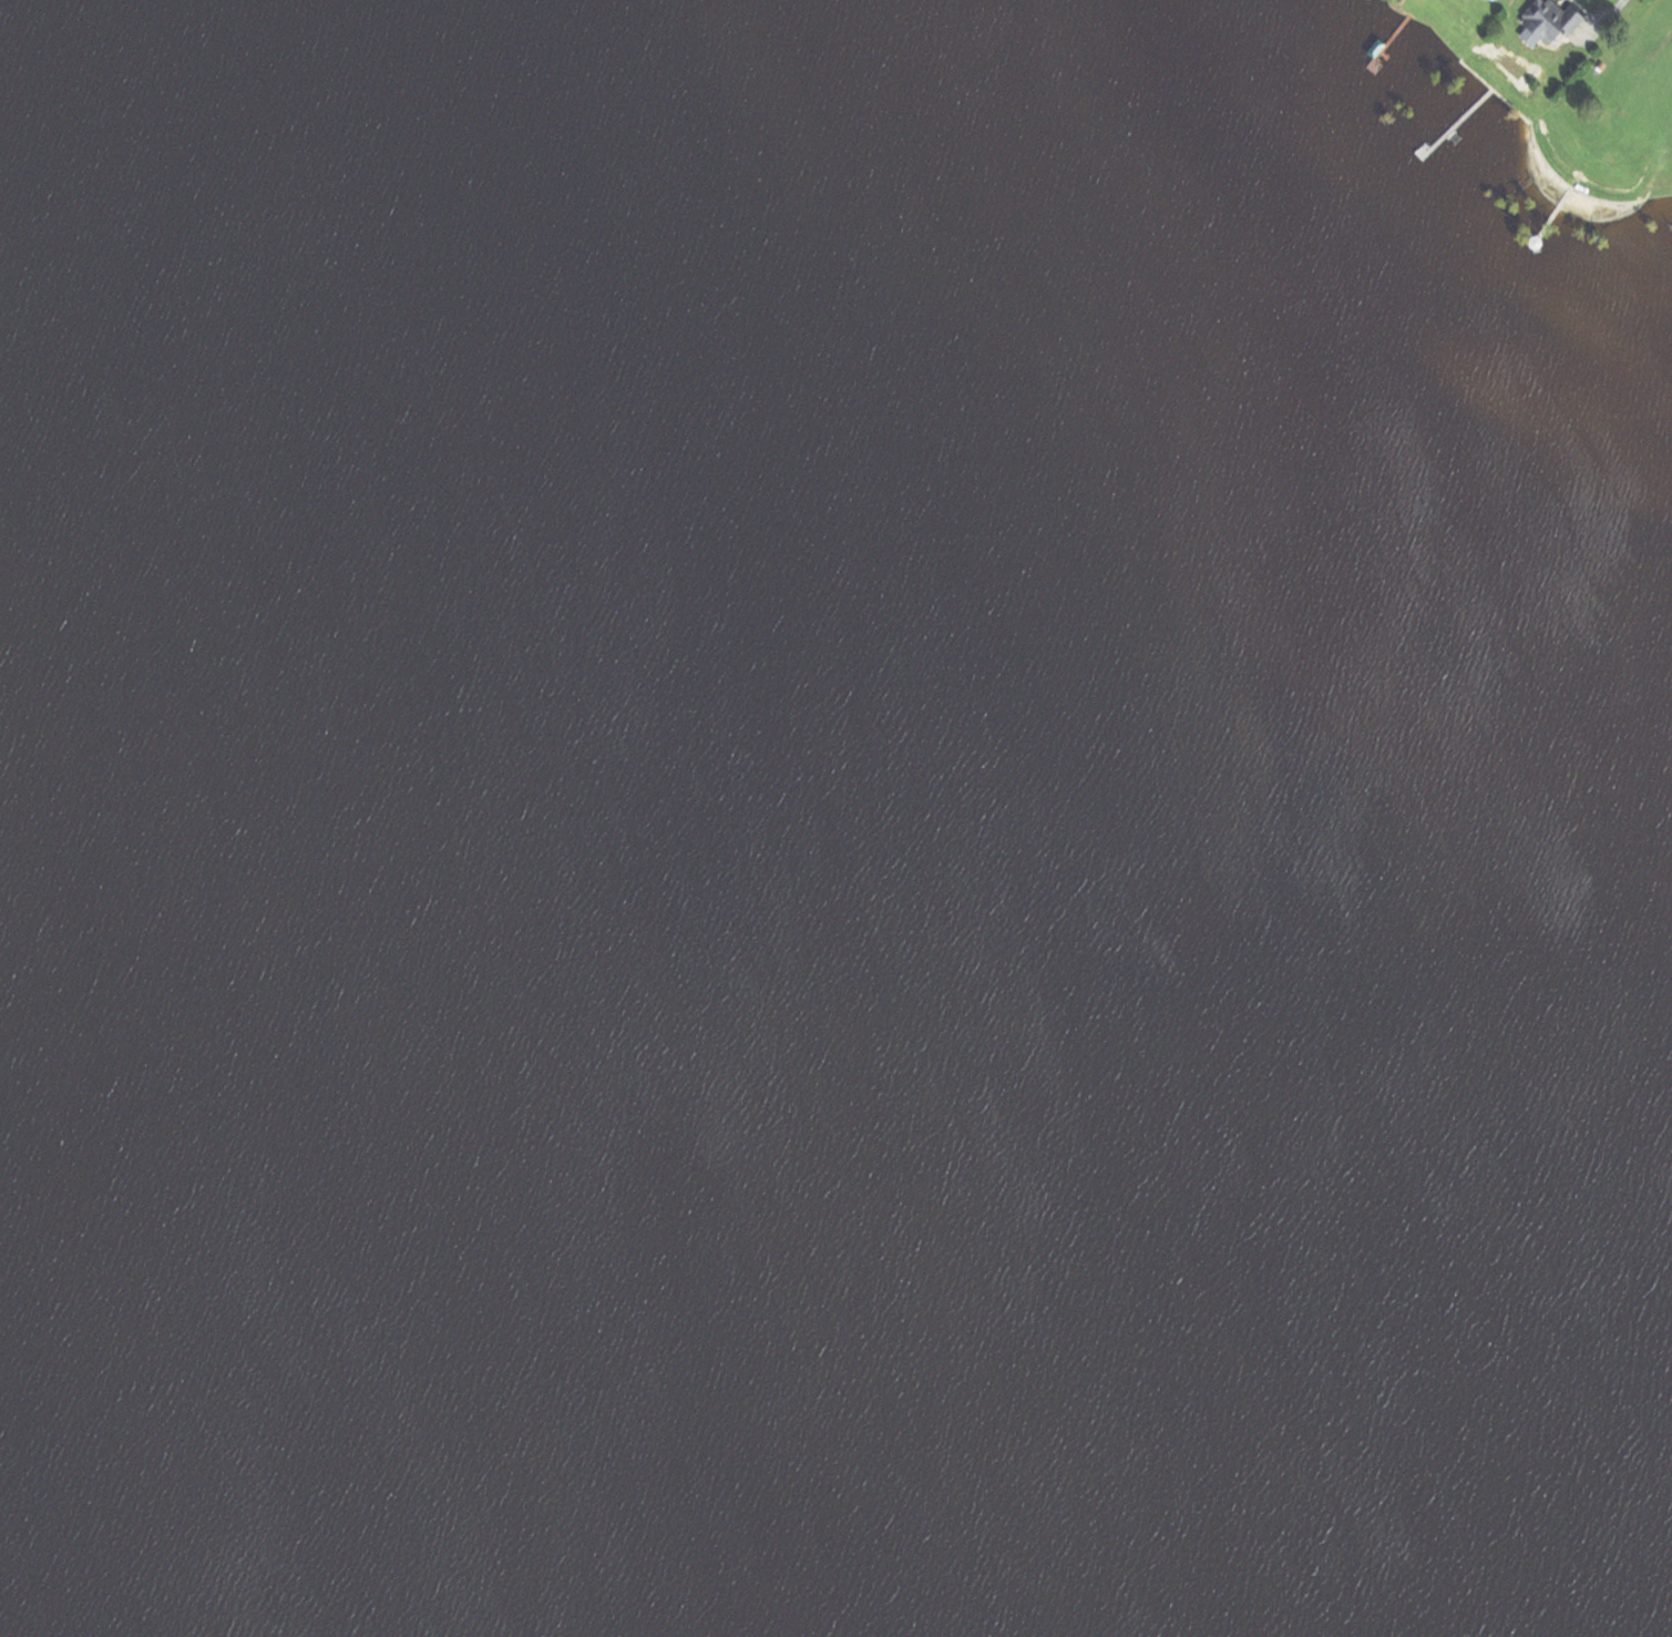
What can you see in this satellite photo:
building: (1547, 20)
road: (1607, 20)
building: (833, 83)
river: (185, 606)
building: (1632, 980)
river: (656, 1058)
river: (1090, 1529)

